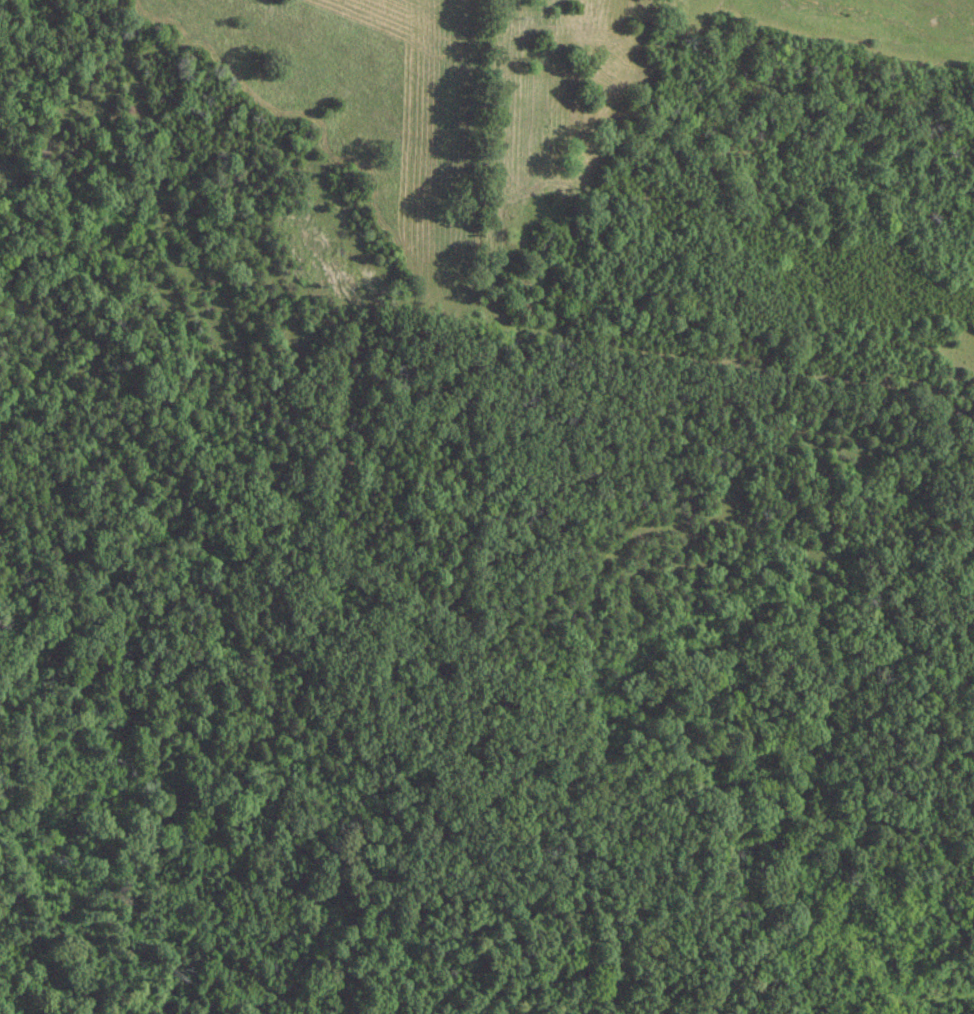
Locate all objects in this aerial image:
building: (537, 1)

